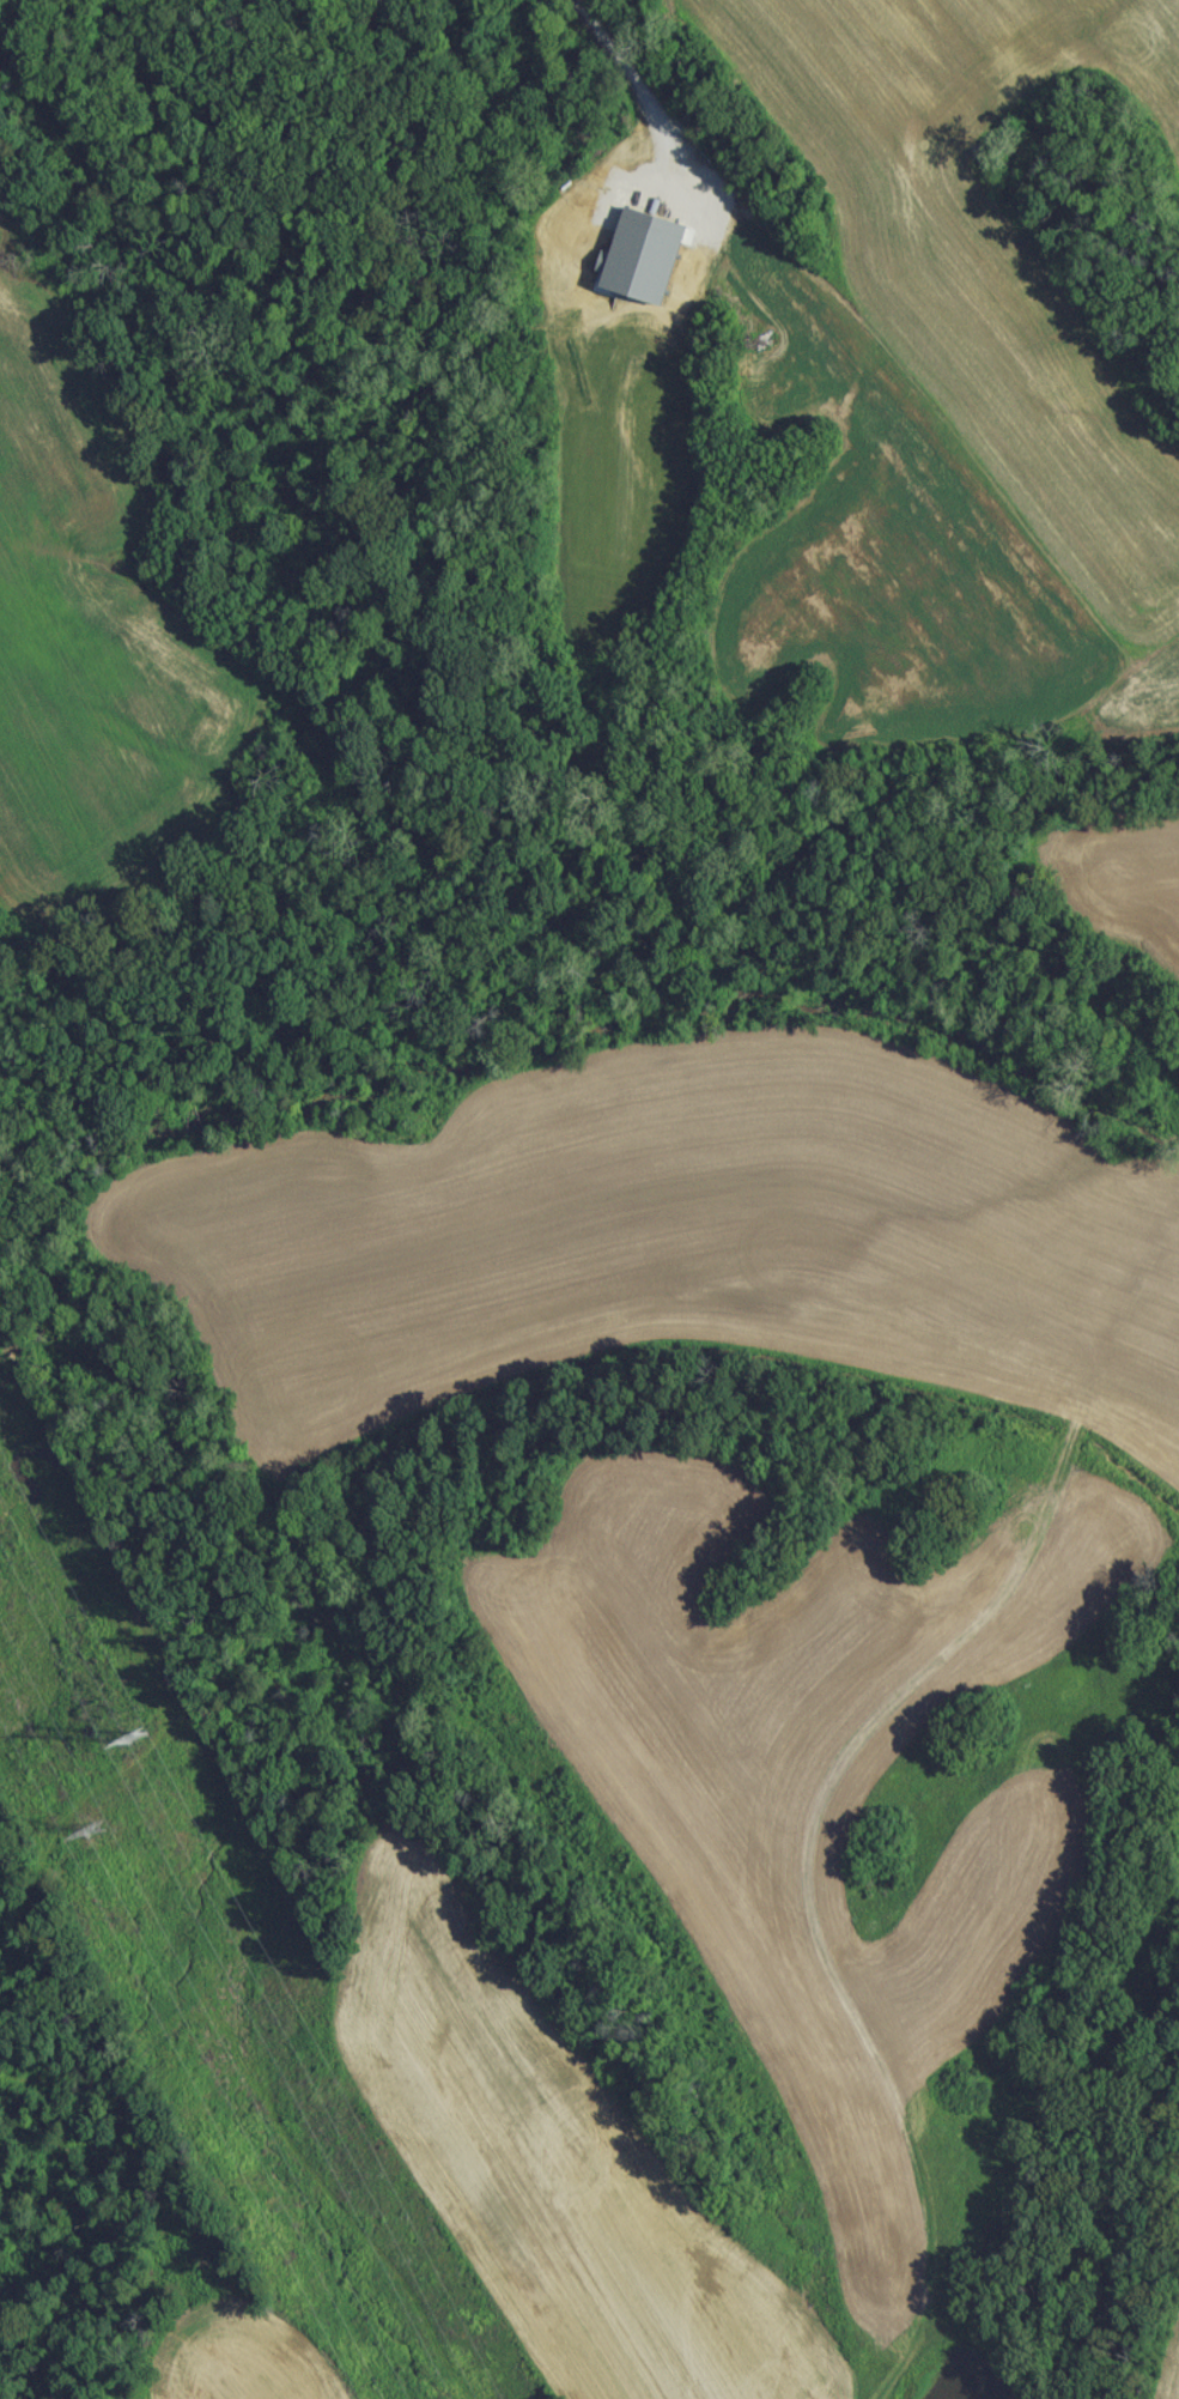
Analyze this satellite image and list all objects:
power tower: (144, 1746)
power tower: (105, 1836)
road: (393, 2077)

